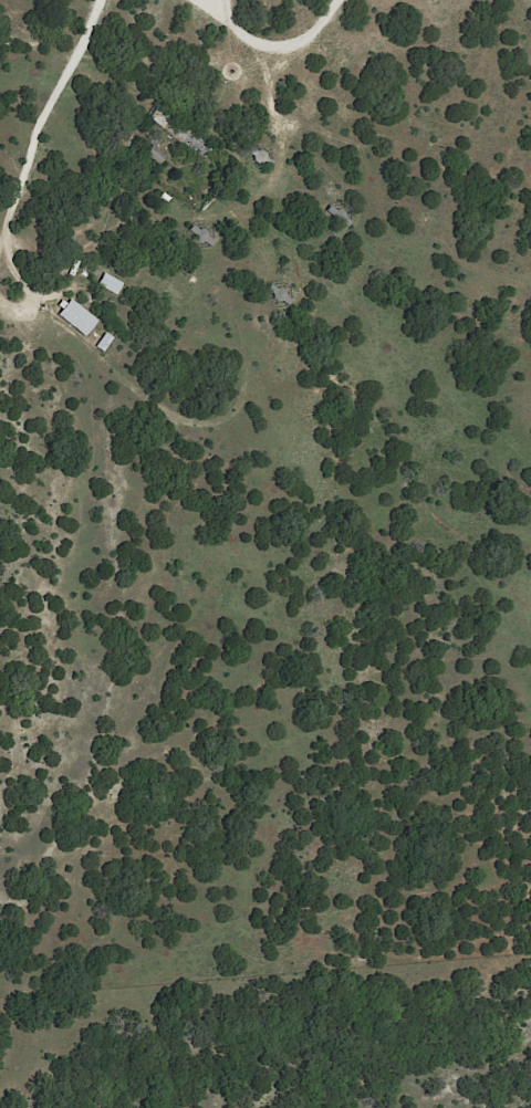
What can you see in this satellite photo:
road: (206, 6)
road: (275, 45)
building: (183, 132)
road: (31, 144)
building: (156, 154)
building: (260, 156)
building: (200, 234)
building: (280, 294)
building: (76, 316)

